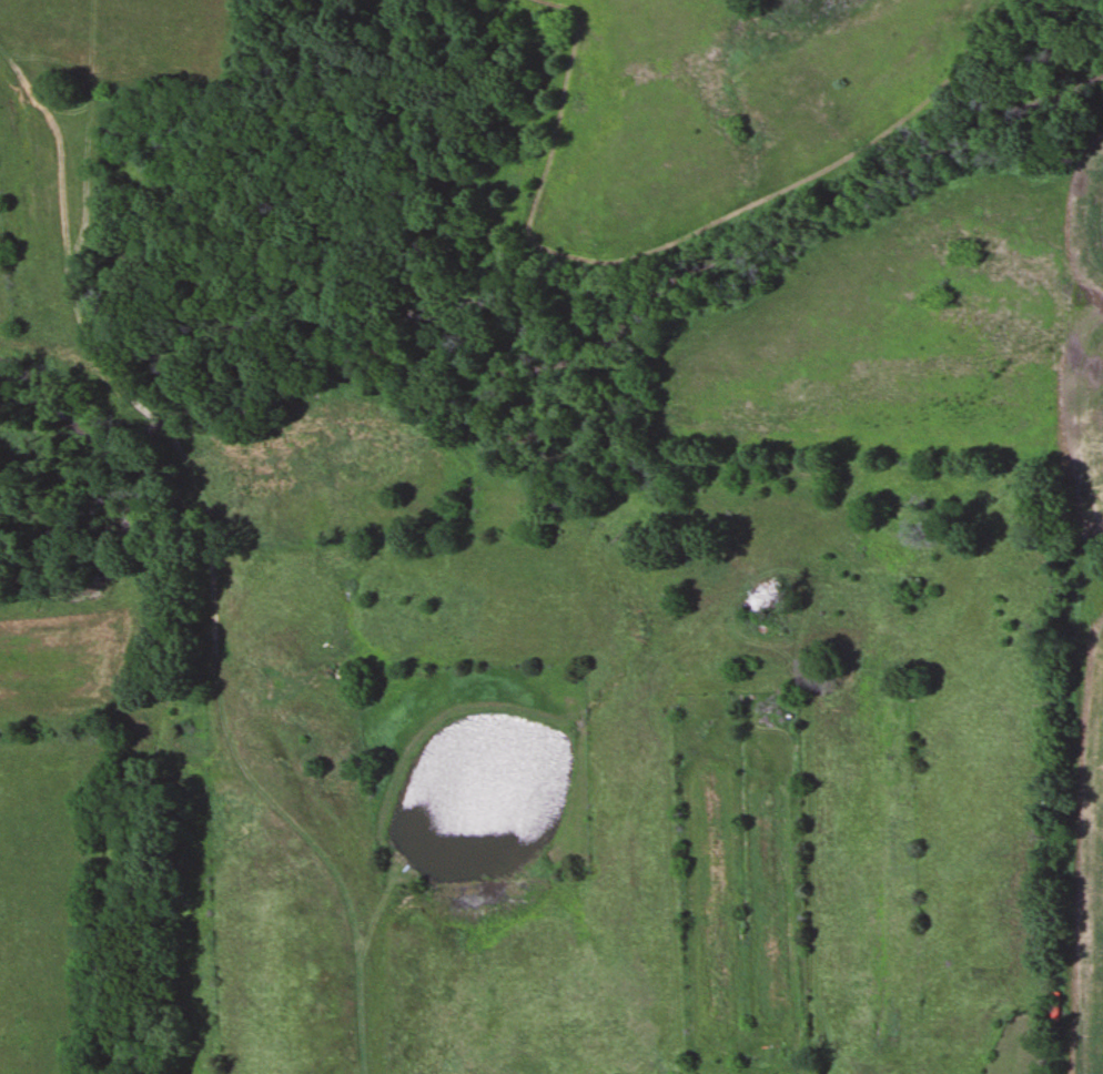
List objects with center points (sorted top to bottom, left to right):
building: (1053, 1005)

